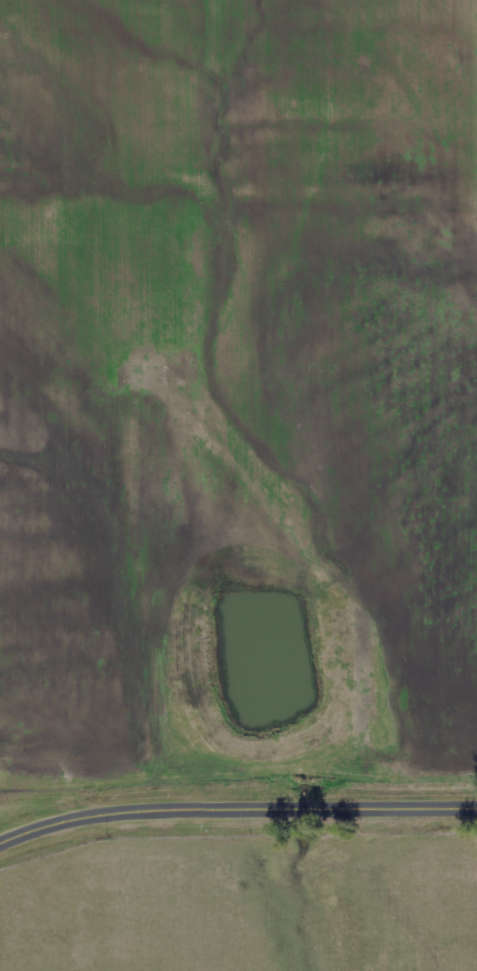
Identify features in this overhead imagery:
road: (236, 812)

